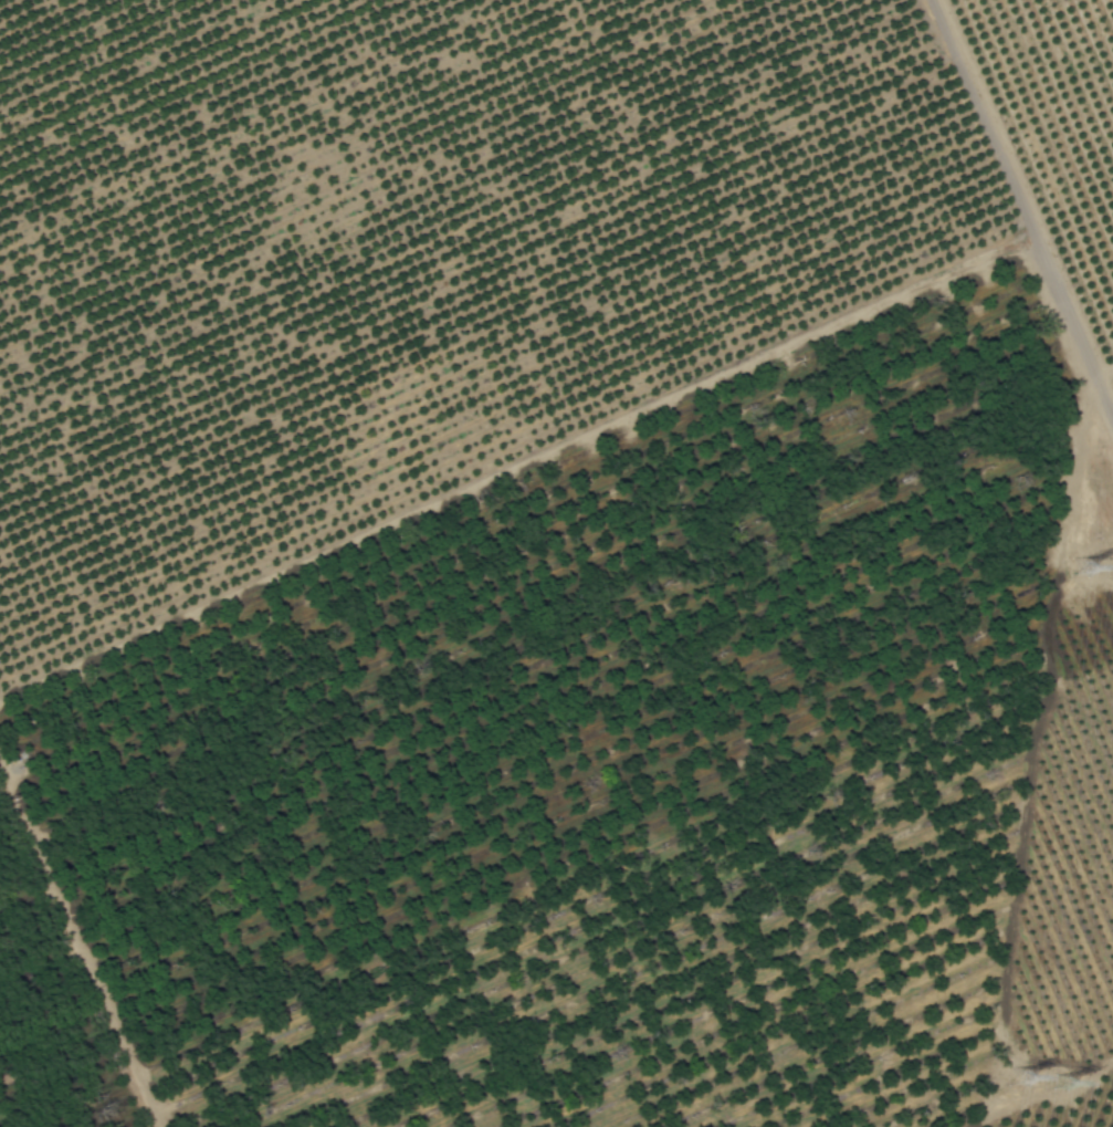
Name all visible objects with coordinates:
road: (1023, 206)
power tower: (1079, 572)
power tower: (1021, 1079)
power tower: (1061, 1084)

